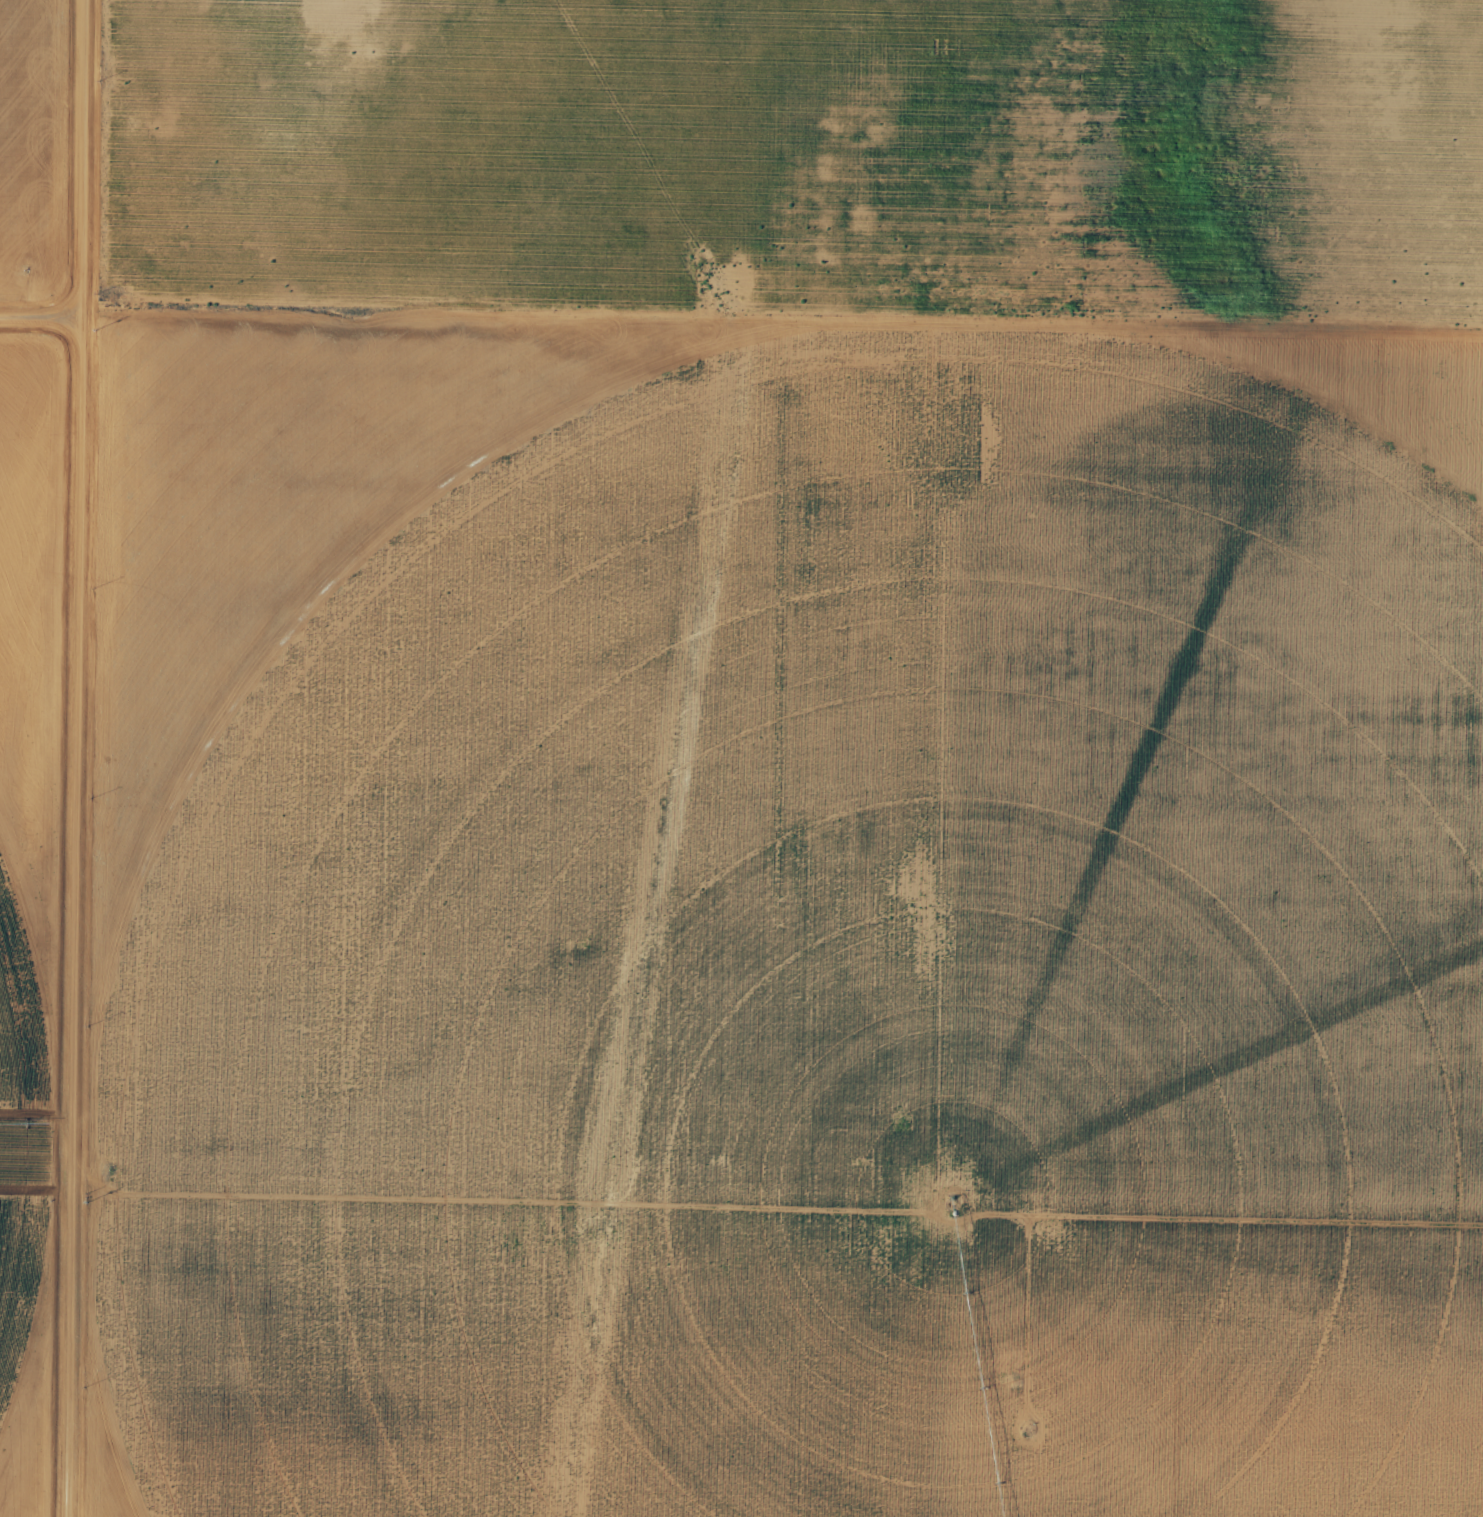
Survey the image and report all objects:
road: (43, 314)
road: (784, 351)
road: (78, 758)
road: (1000, 940)
road: (777, 1214)

